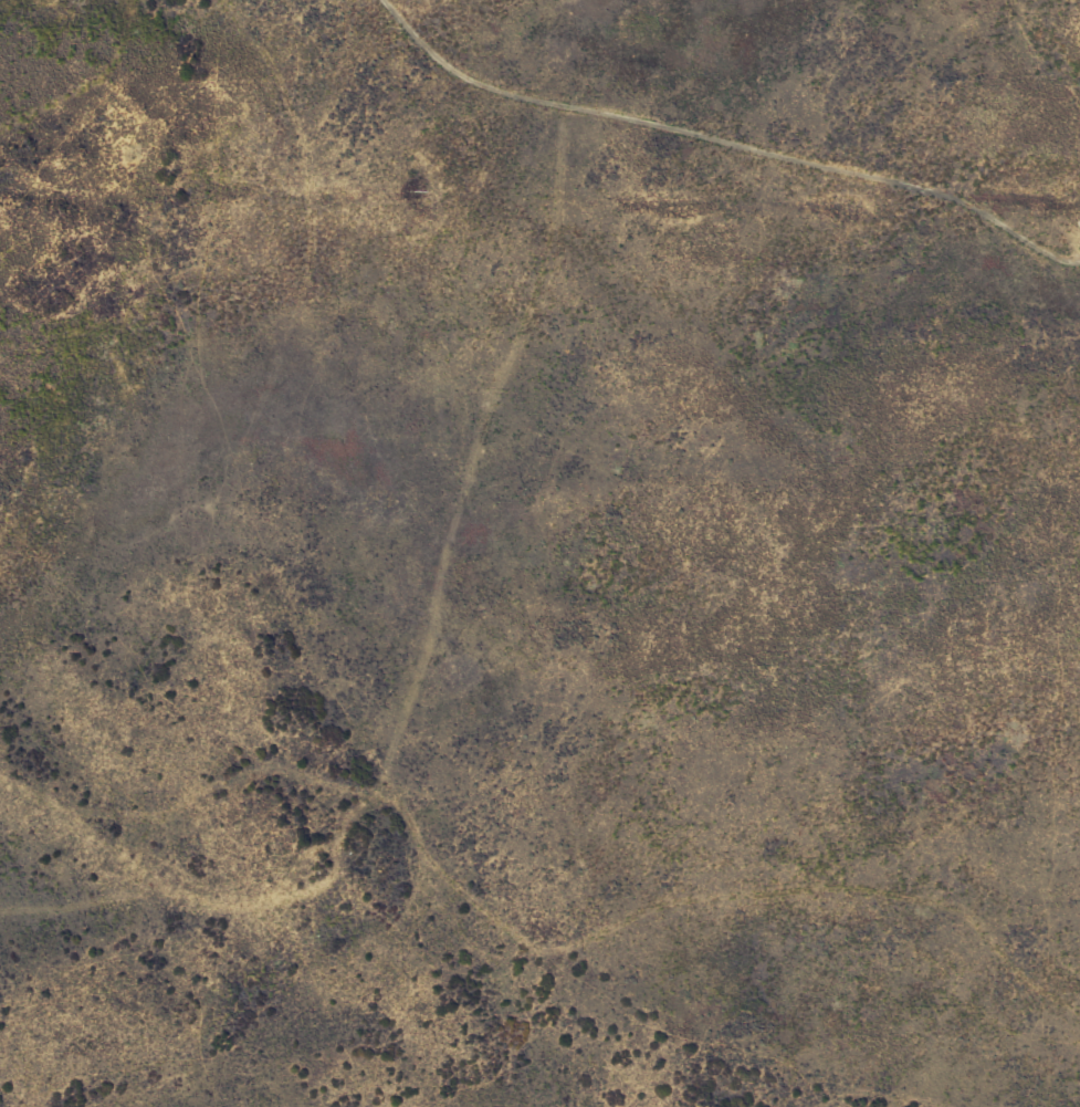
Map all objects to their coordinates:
road: (727, 139)

